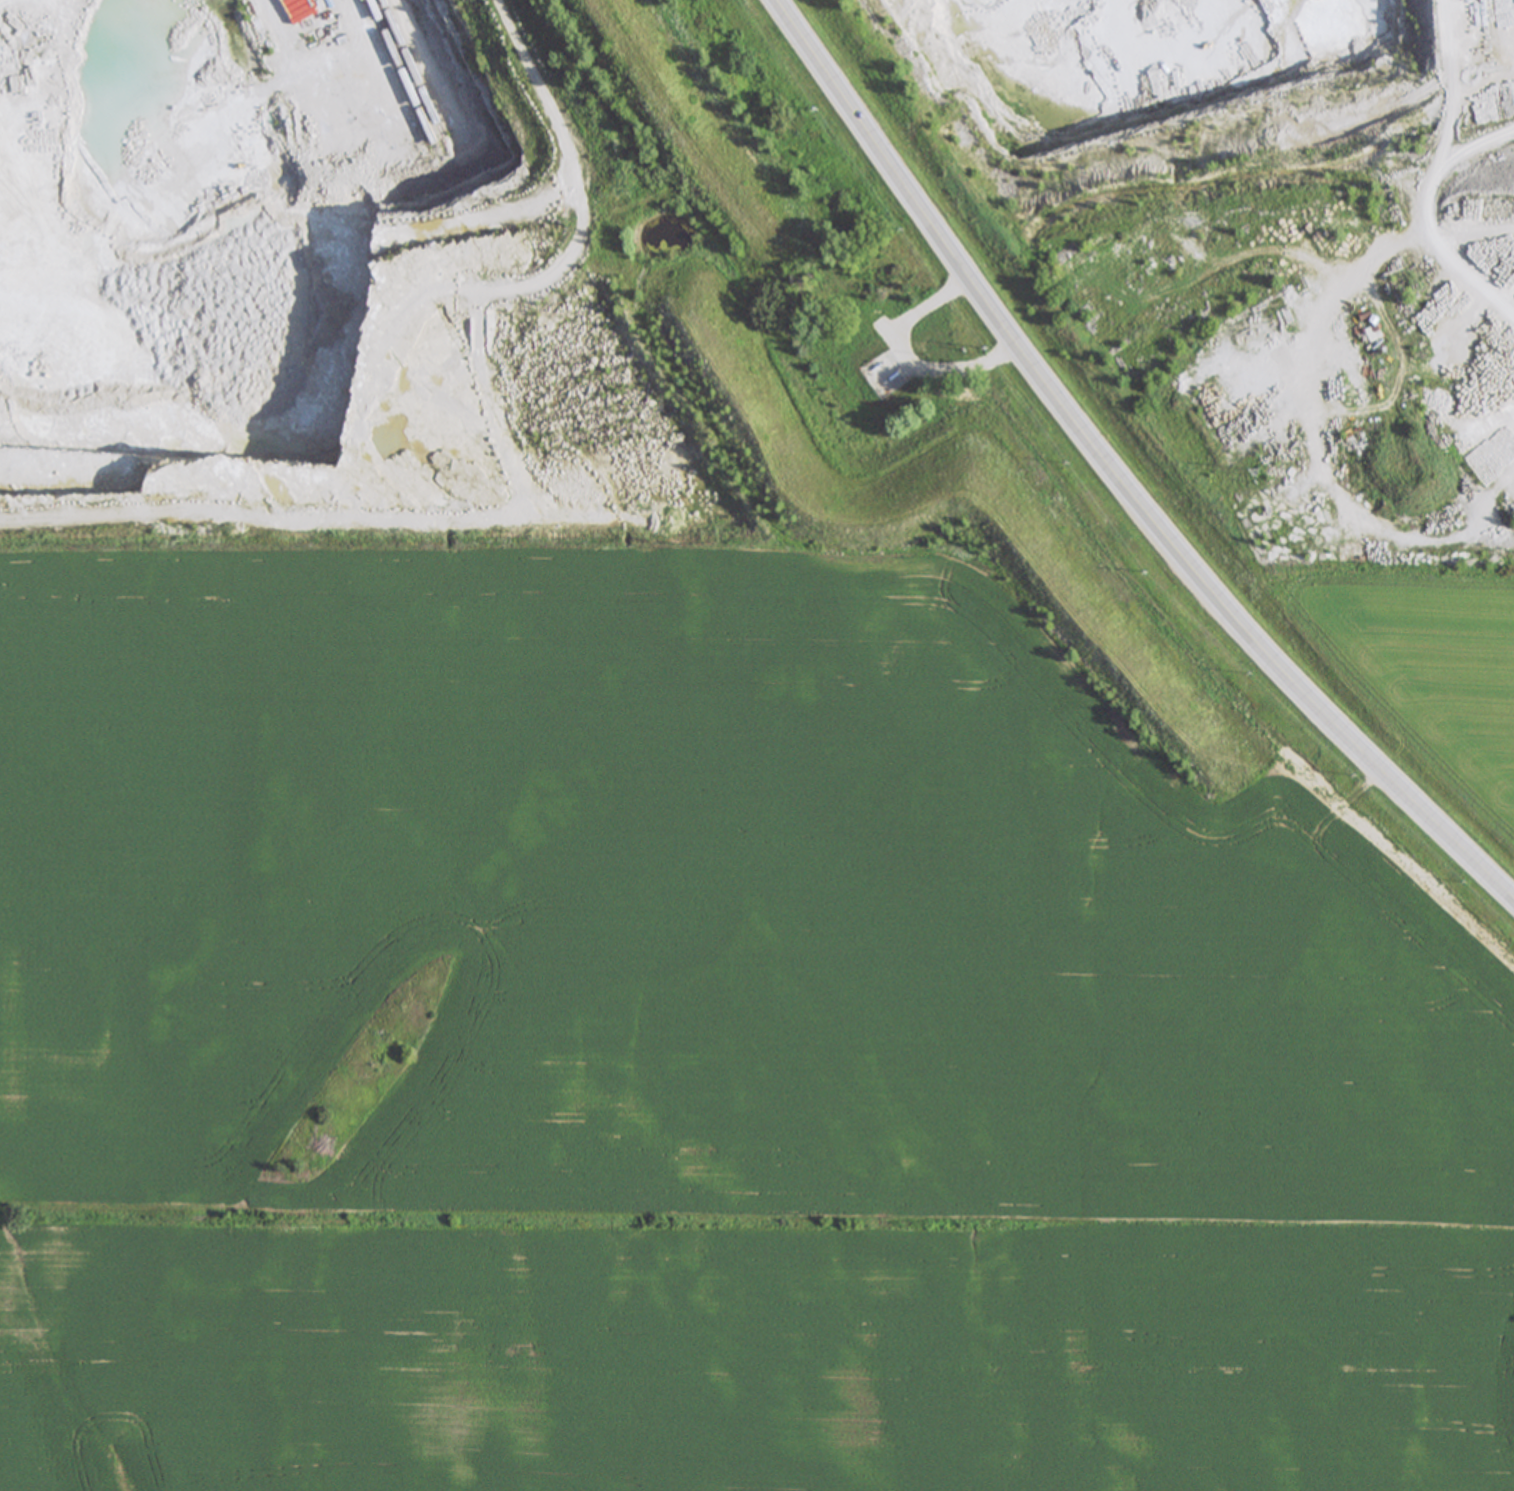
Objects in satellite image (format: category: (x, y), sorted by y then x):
quarry: (1268, 241)
quarry: (399, 244)
quarry: (337, 266)
building: (885, 325)
road: (906, 363)
building: (875, 370)
road: (1113, 474)

